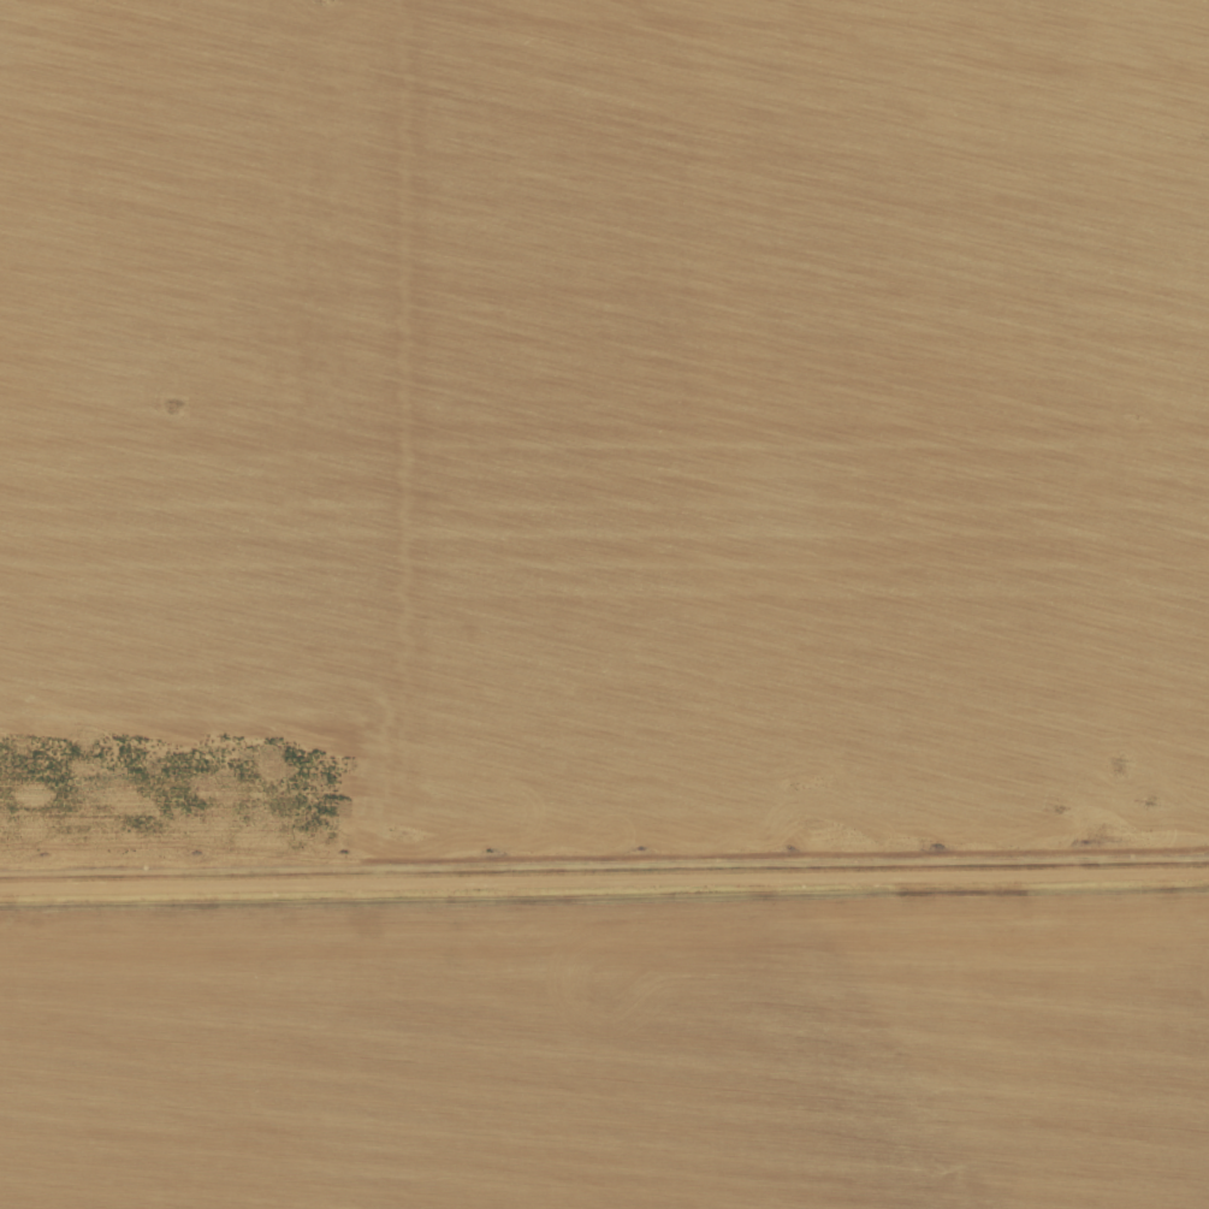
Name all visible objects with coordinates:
road: (604, 882)

